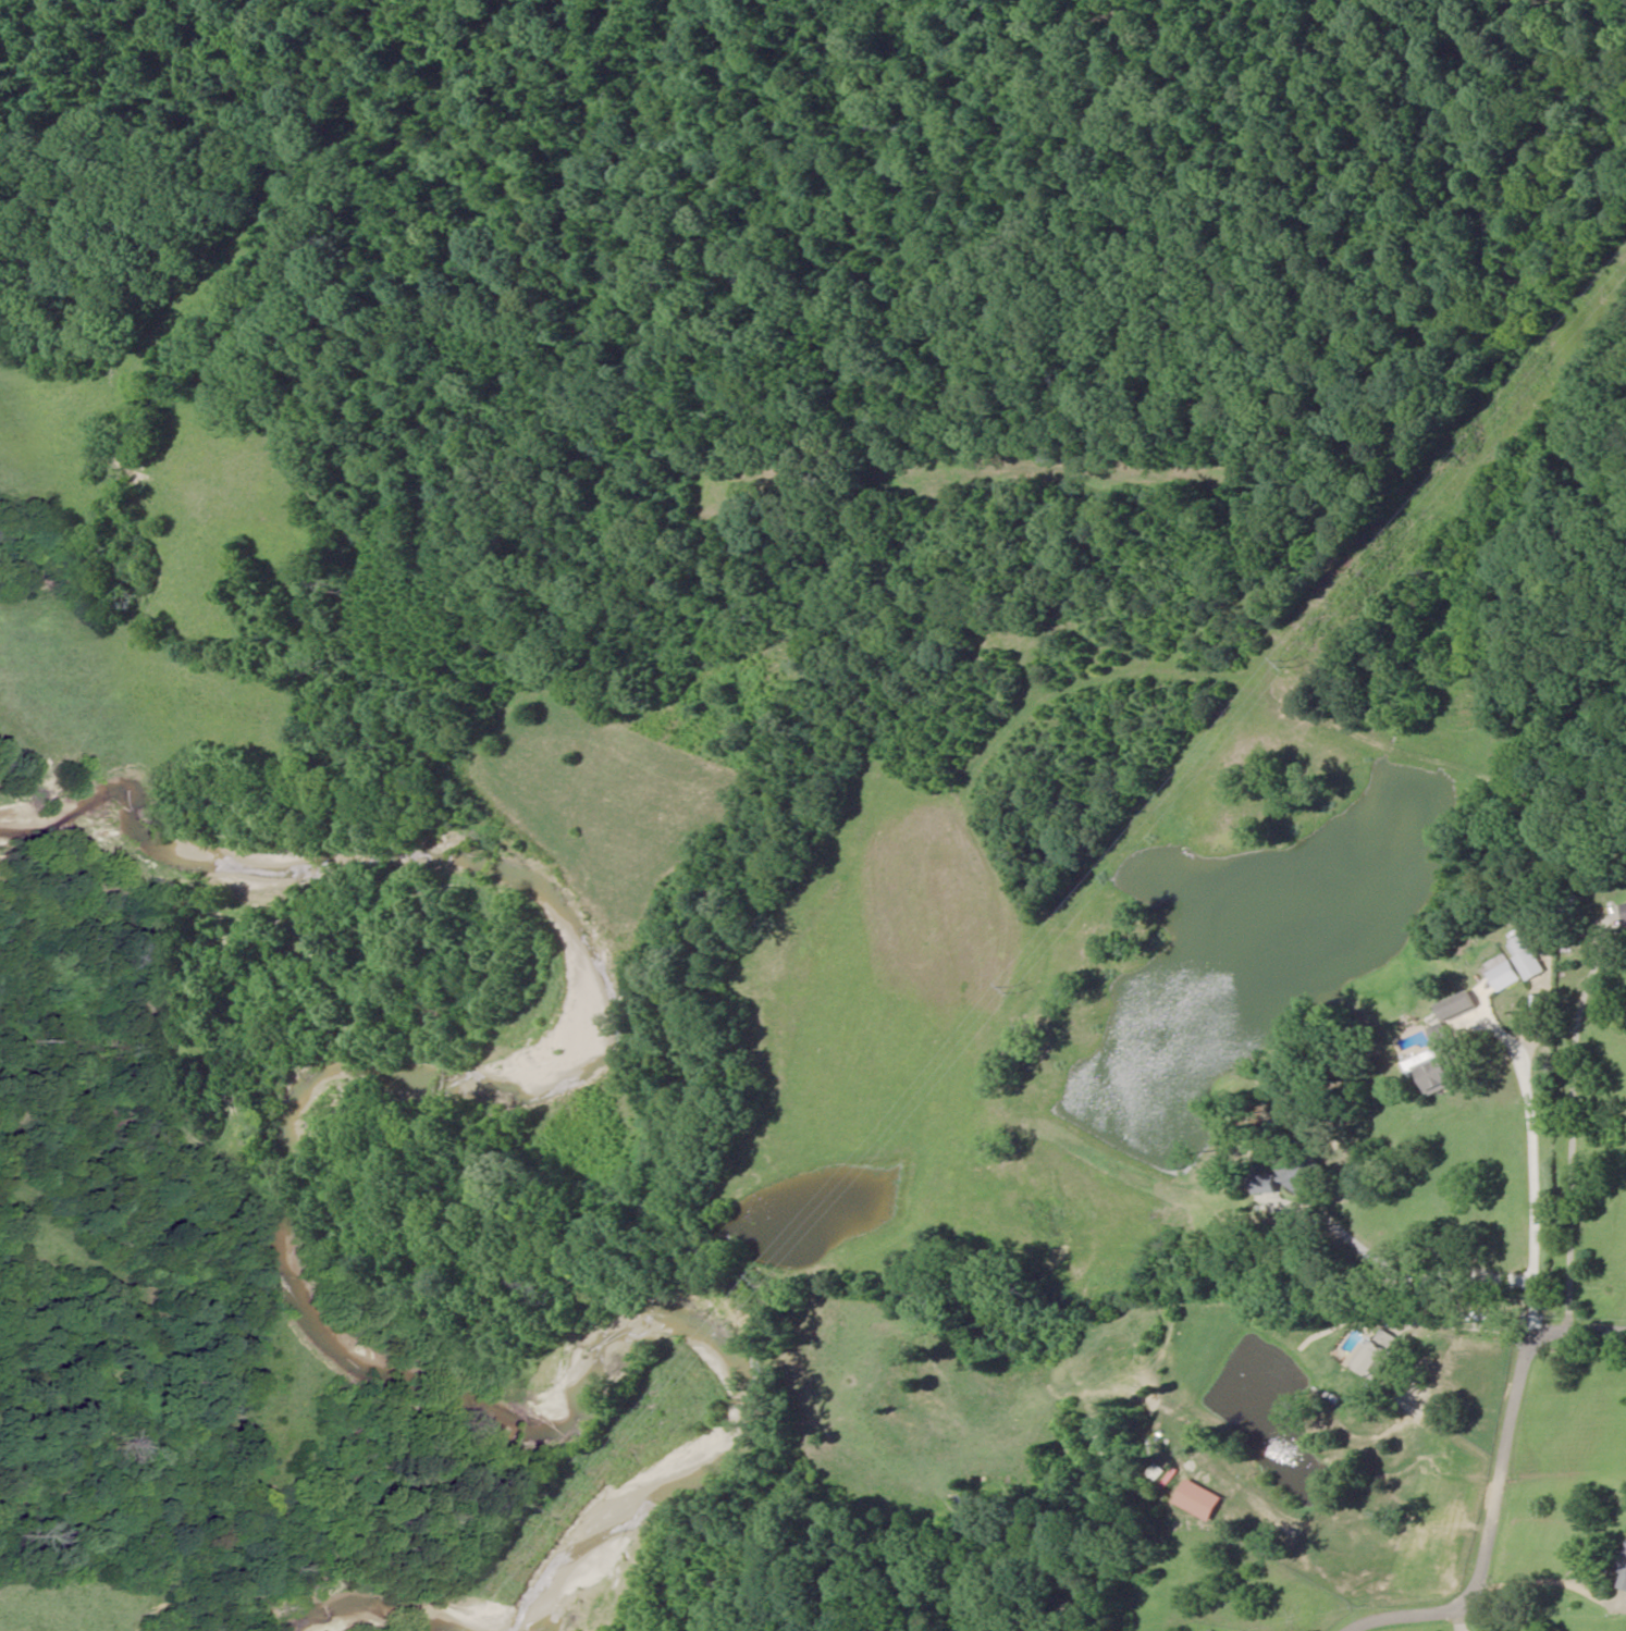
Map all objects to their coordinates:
building: (1625, 905)
building: (1529, 956)
building: (1507, 975)
building: (1433, 1070)
building: (1308, 1172)
building: (1273, 1184)
building: (1379, 1351)
road: (1508, 1472)
building: (1623, 1576)

